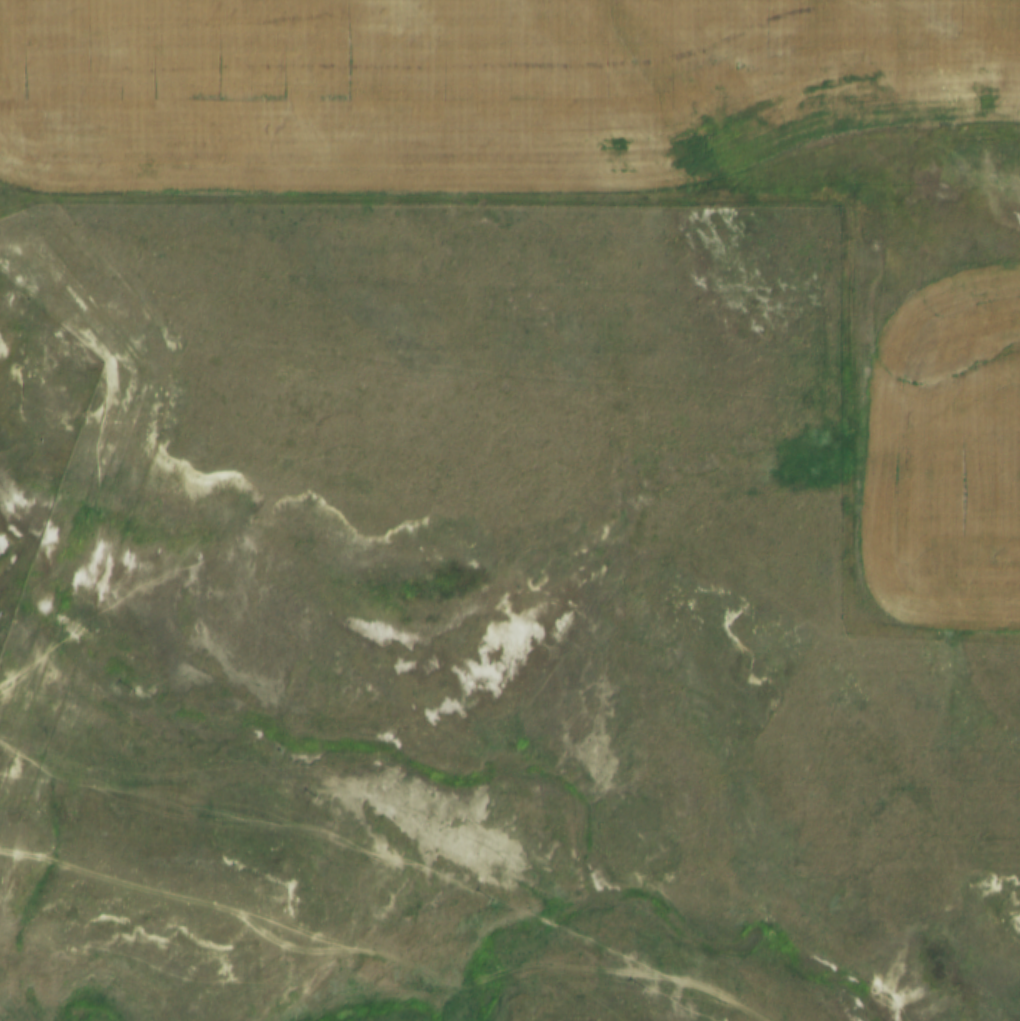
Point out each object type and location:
road: (381, 956)

